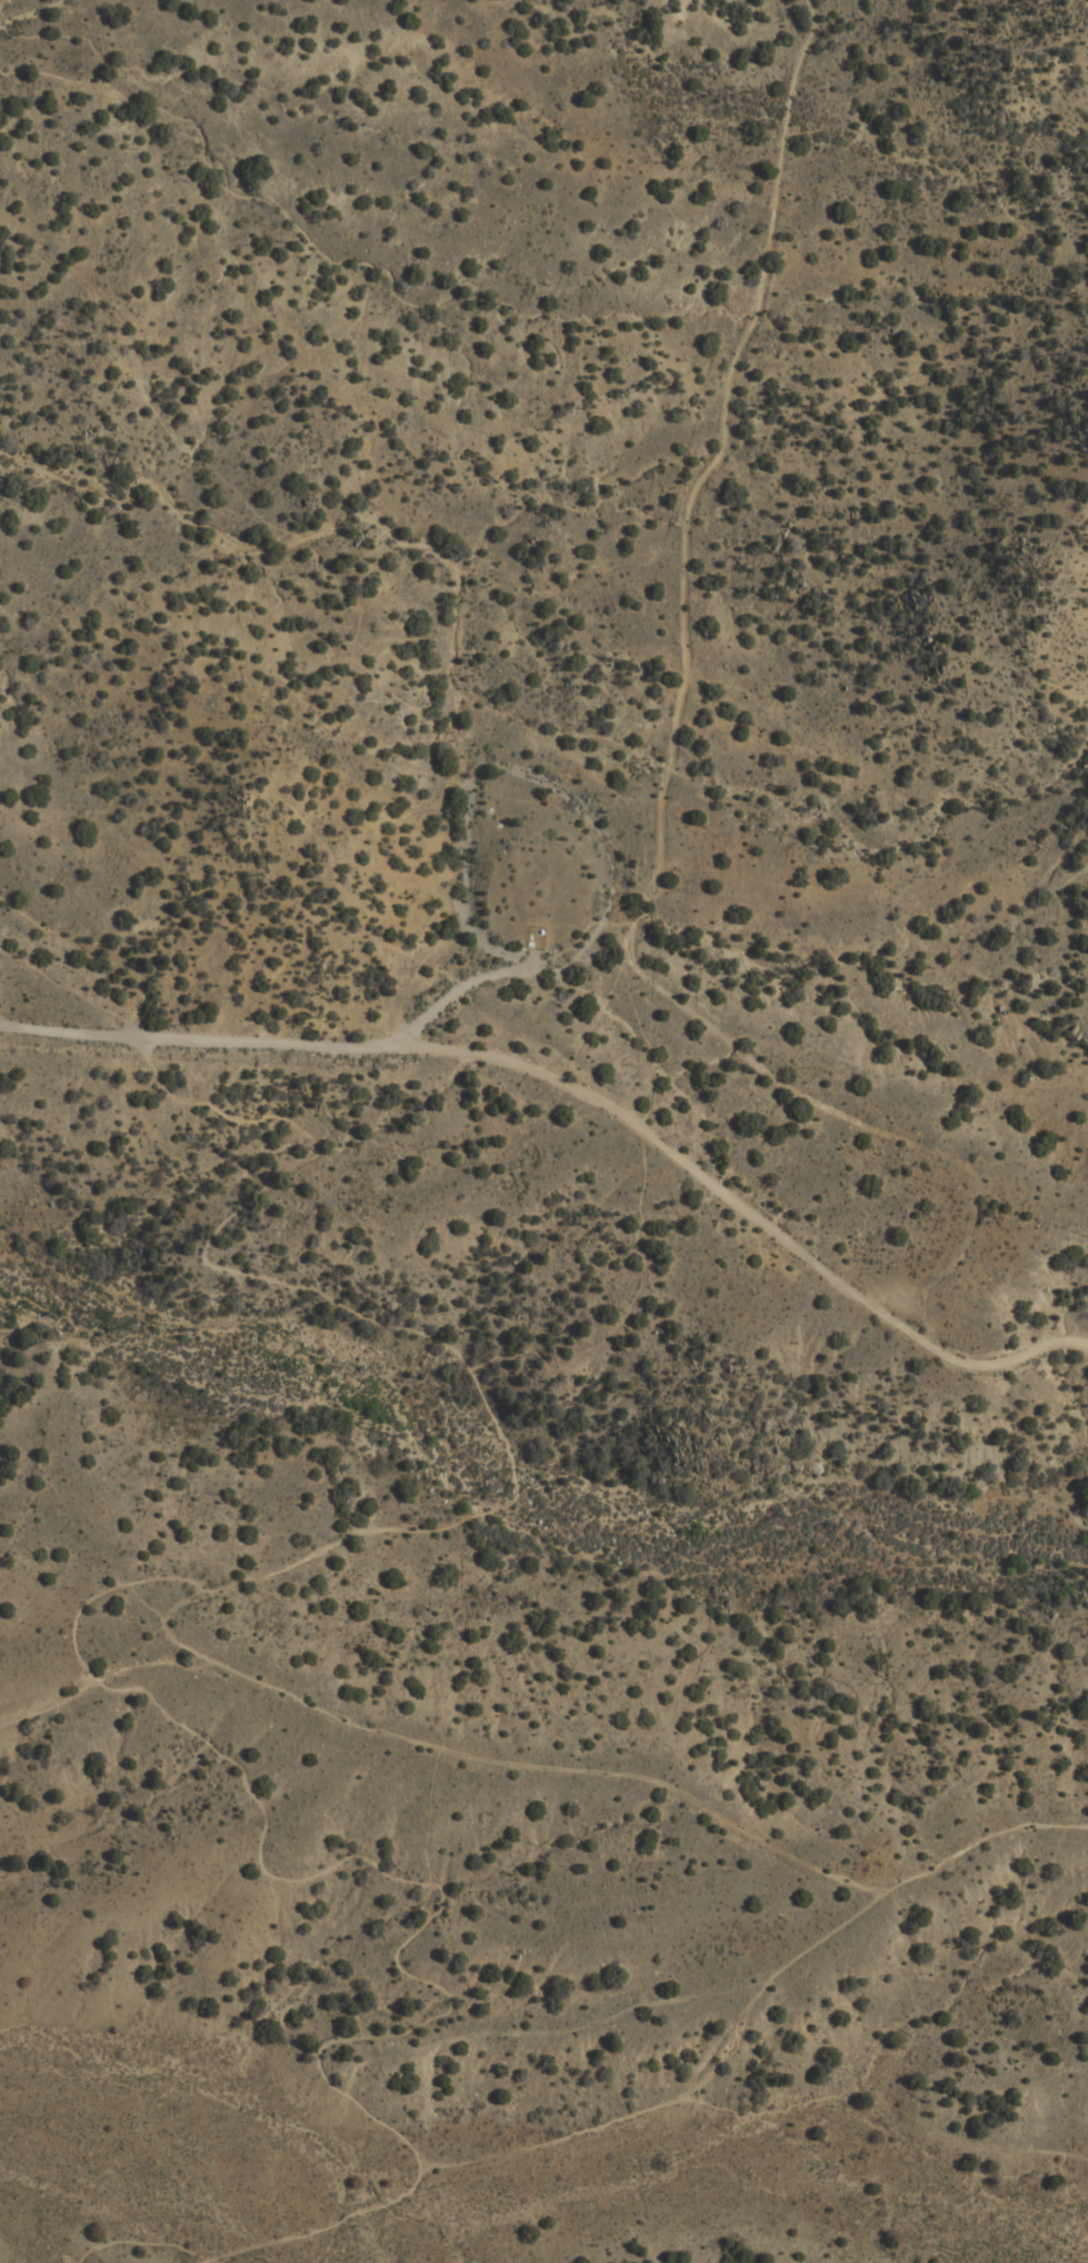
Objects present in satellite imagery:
road: (2, 8)
park: (289, 69)
road: (363, 640)
building: (530, 937)
storage tank: (530, 937)
road: (864, 1128)
road: (645, 1218)
road: (989, 1366)
road: (101, 1598)
road: (447, 1707)
road: (52, 1708)
road: (357, 1721)
road: (849, 1872)
road: (761, 2001)
road: (886, 2114)
road: (525, 2150)
road: (1071, 2193)

